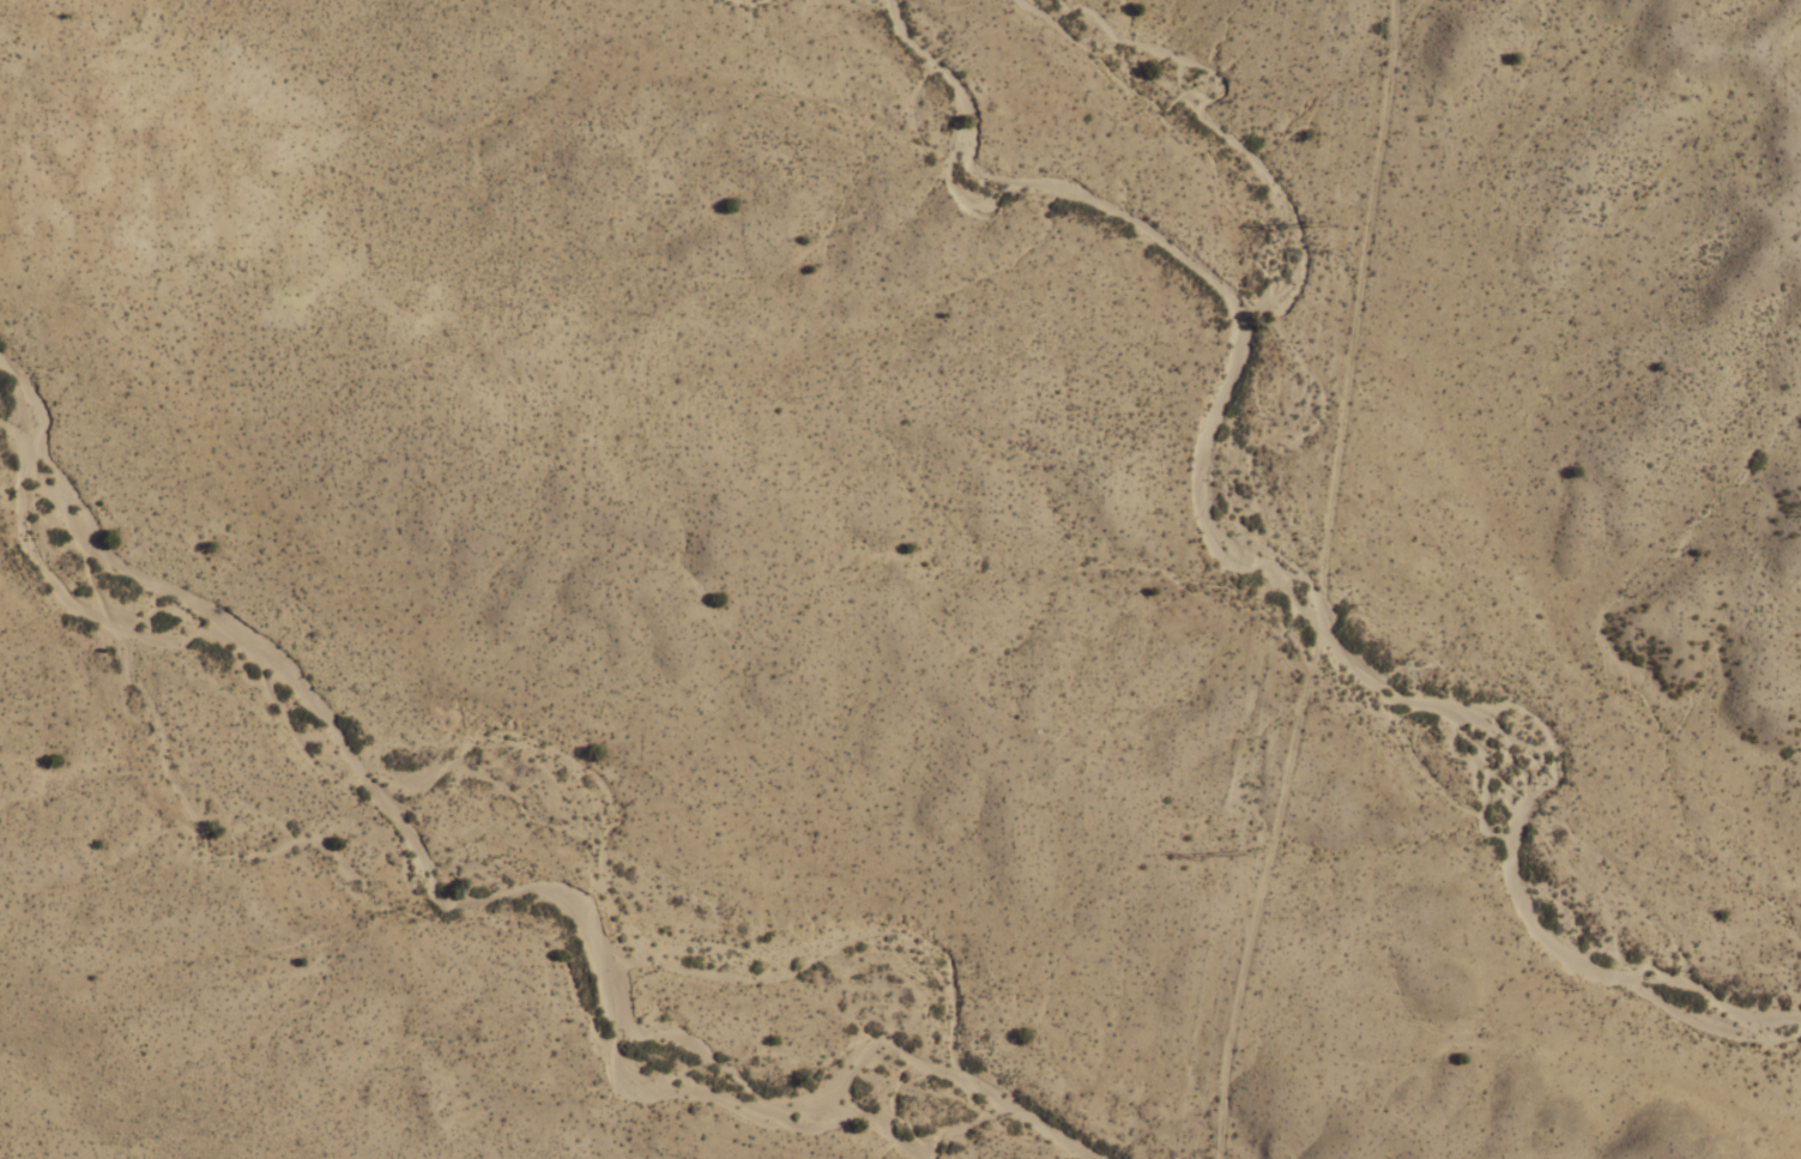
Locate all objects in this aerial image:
power tower: (1341, 219)
power tower: (1246, 851)

